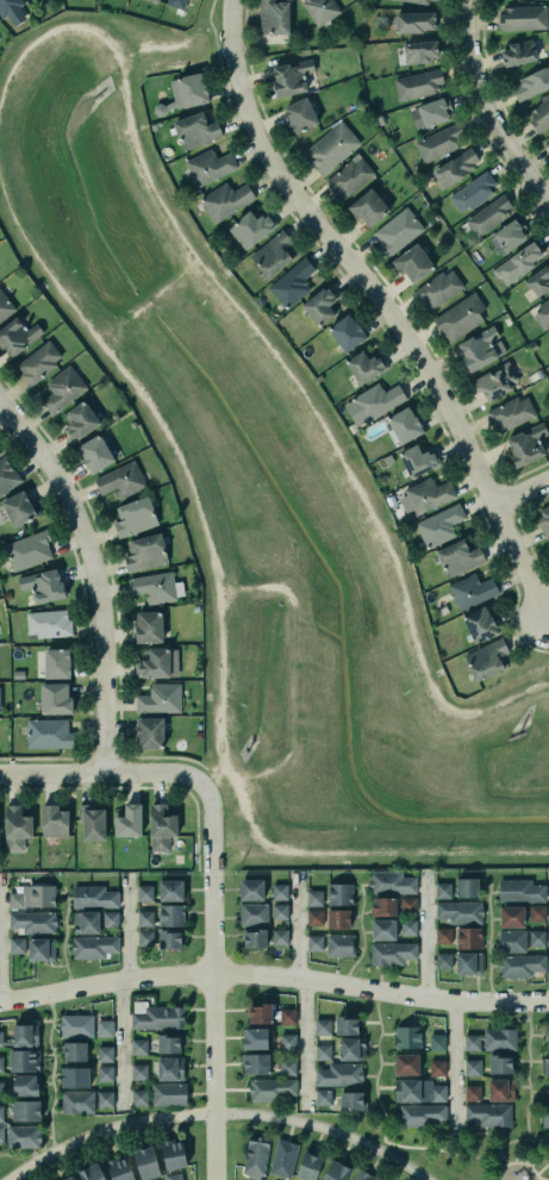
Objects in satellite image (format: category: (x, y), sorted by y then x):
building: (155, 0)
building: (419, 1)
building: (176, 4)
building: (13, 10)
building: (320, 10)
building: (274, 17)
building: (523, 18)
building: (414, 21)
road: (55, 26)
road: (213, 31)
road: (163, 44)
building: (420, 50)
building: (519, 51)
building: (291, 77)
building: (532, 82)
building: (418, 85)
building: (186, 93)
building: (431, 111)
road: (487, 112)
building: (539, 114)
building: (300, 115)
building: (195, 130)
building: (439, 141)
building: (547, 142)
building: (332, 146)
building: (210, 167)
building: (455, 167)
building: (349, 175)
building: (473, 192)
building: (226, 199)
building: (369, 207)
building: (489, 214)
building: (251, 229)
building: (397, 231)
building: (511, 233)
building: (273, 252)
road: (37, 256)
building: (413, 263)
building: (517, 263)
building: (538, 281)
building: (292, 282)
building: (438, 288)
building: (322, 304)
road: (380, 304)
building: (5, 305)
road: (238, 306)
building: (543, 313)
building: (460, 317)
building: (347, 332)
building: (17, 336)
building: (482, 348)
building: (39, 362)
building: (367, 364)
building: (495, 380)
building: (62, 389)
building: (378, 399)
building: (511, 413)
building: (80, 420)
building: (406, 424)
building: (526, 444)
road: (176, 450)
building: (95, 454)
building: (419, 461)
building: (7, 475)
building: (121, 479)
road: (522, 485)
building: (424, 497)
building: (20, 507)
building: (135, 517)
building: (544, 518)
building: (439, 525)
building: (548, 544)
building: (29, 549)
building: (145, 552)
building: (458, 557)
road: (91, 573)
building: (43, 586)
building: (154, 586)
road: (261, 586)
building: (472, 591)
building: (48, 623)
building: (480, 624)
building: (149, 626)
road: (413, 631)
building: (487, 658)
building: (57, 663)
building: (158, 663)
road: (222, 679)
road: (510, 695)
building: (56, 698)
building: (160, 698)
building: (49, 732)
building: (151, 732)
road: (171, 755)
road: (106, 770)
road: (217, 770)
building: (93, 820)
building: (54, 822)
building: (129, 822)
building: (161, 826)
building: (15, 828)
road: (360, 850)
building: (391, 882)
building: (467, 887)
building: (518, 888)
building: (171, 889)
building: (251, 889)
building: (443, 889)
building: (145, 892)
building: (280, 892)
building: (339, 894)
building: (32, 895)
building: (93, 897)
building: (314, 898)
building: (382, 903)
building: (408, 905)
building: (280, 911)
building: (460, 912)
building: (254, 913)
building: (536, 913)
building: (171, 914)
building: (145, 917)
building: (511, 917)
building: (314, 918)
building: (338, 918)
building: (110, 919)
building: (33, 920)
building: (86, 922)
road: (125, 924)
road: (294, 925)
building: (382, 926)
building: (406, 926)
road: (423, 932)
road: (361, 935)
building: (443, 935)
building: (145, 936)
road: (63, 937)
building: (280, 937)
building: (171, 938)
building: (255, 938)
building: (468, 938)
building: (537, 938)
building: (313, 941)
building: (512, 941)
building: (338, 943)
road: (488, 943)
building: (17, 945)
building: (94, 945)
building: (40, 949)
building: (389, 951)
building: (443, 961)
building: (468, 963)
building: (520, 966)
road: (104, 980)
road: (210, 984)
road: (379, 988)
building: (260, 1013)
building: (287, 1017)
building: (75, 1024)
building: (347, 1025)
building: (102, 1026)
building: (323, 1026)
building: (25, 1035)
building: (252, 1035)
road: (120, 1036)
building: (1, 1037)
building: (407, 1037)
building: (548, 1038)
road: (302, 1039)
building: (499, 1039)
building: (287, 1041)
building: (436, 1042)
building: (472, 1042)
building: (169, 1044)
building: (139, 1047)
building: (351, 1049)
building: (75, 1051)
building: (323, 1051)
building: (104, 1054)
building: (24, 1060)
building: (1, 1063)
building: (256, 1063)
building: (500, 1063)
building: (545, 1063)
building: (406, 1065)
road: (453, 1065)
building: (169, 1066)
building: (288, 1067)
building: (472, 1067)
building: (437, 1068)
road: (526, 1070)
road: (50, 1072)
building: (139, 1072)
building: (105, 1073)
building: (339, 1075)
building: (75, 1076)
building: (25, 1085)
building: (1, 1088)
building: (548, 1088)
building: (273, 1090)
building: (501, 1090)
building: (407, 1091)
building: (168, 1092)
building: (472, 1092)
building: (437, 1093)
building: (138, 1097)
building: (323, 1097)
building: (105, 1099)
building: (353, 1100)
building: (77, 1101)
building: (26, 1111)
building: (1, 1113)
building: (419, 1113)
building: (488, 1115)
building: (544, 1115)
road: (214, 1116)
building: (1, 1134)
building: (23, 1137)
road: (389, 1144)
building: (174, 1154)
building: (256, 1155)
road: (500, 1156)
building: (283, 1159)
road: (517, 1162)
building: (146, 1163)
building: (308, 1167)
road: (542, 1168)
building: (120, 1169)
building: (333, 1169)
building: (91, 1172)
building: (362, 1175)
building: (174, 1176)
building: (70, 1178)
building: (250, 1179)

